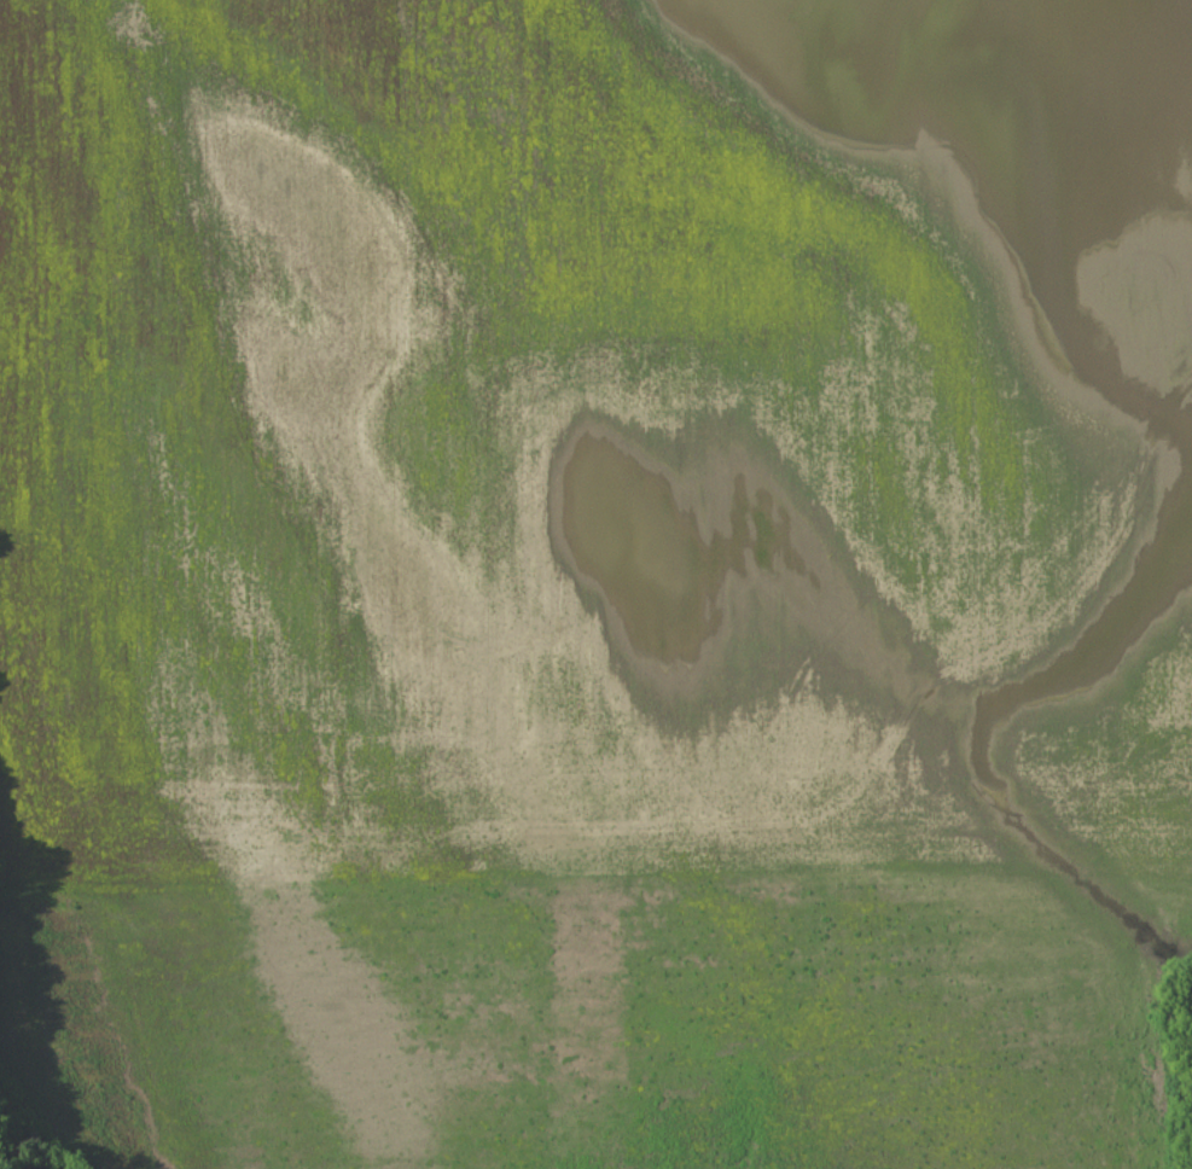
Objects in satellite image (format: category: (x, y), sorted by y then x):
road: (1142, 914)

